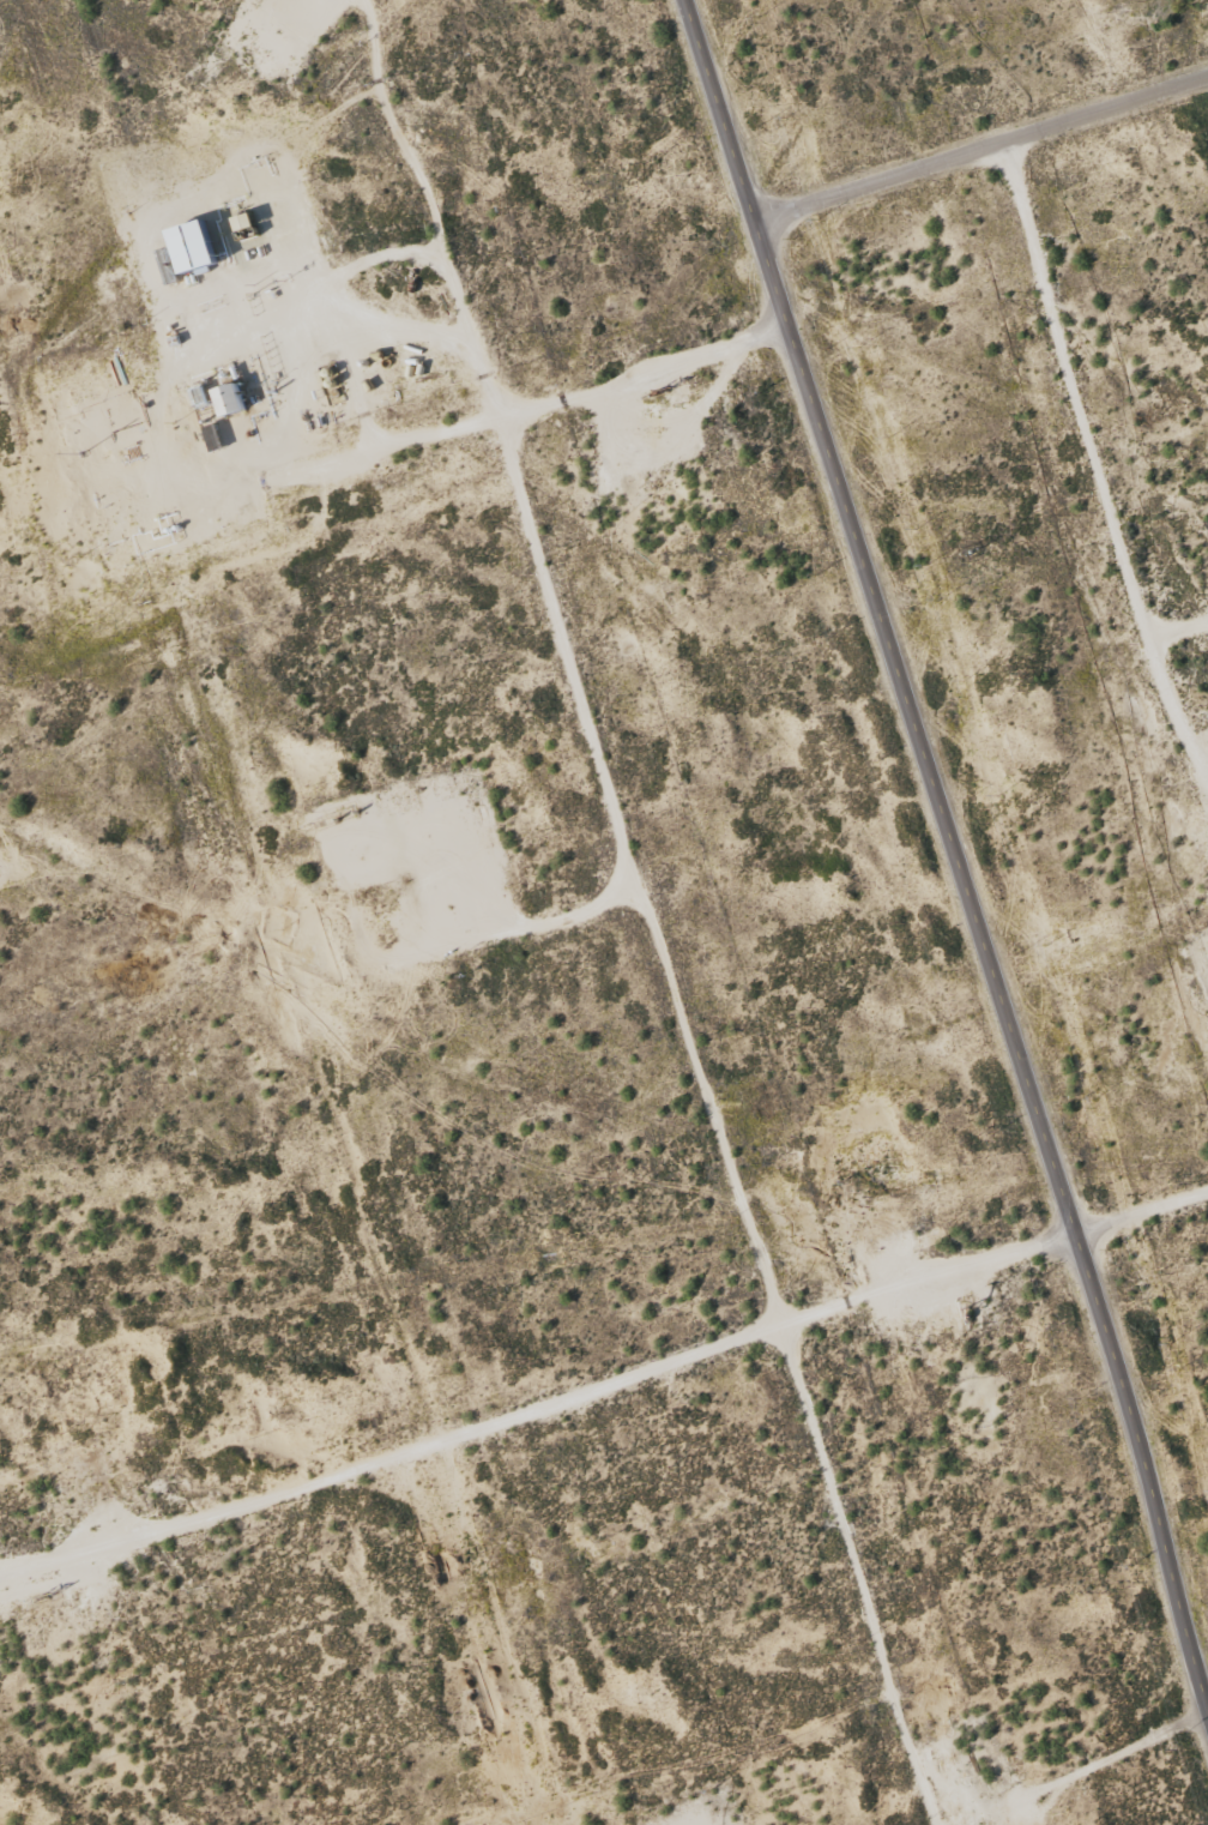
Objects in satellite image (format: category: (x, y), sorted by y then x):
road: (1104, 107)
road: (877, 181)
building: (241, 222)
building: (188, 247)
building: (225, 400)
road: (1103, 487)
road: (1204, 811)
road: (956, 843)
road: (671, 910)
road: (608, 1422)

